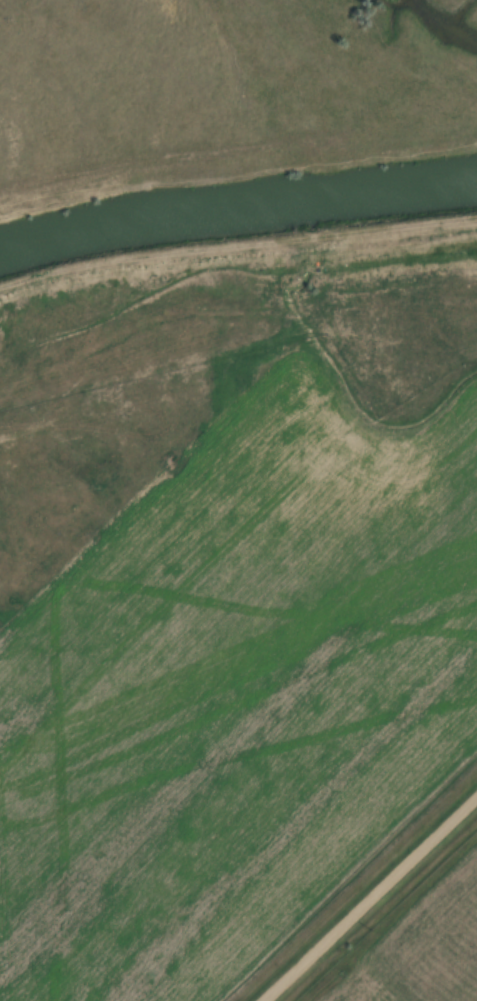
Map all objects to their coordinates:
road: (373, 901)

